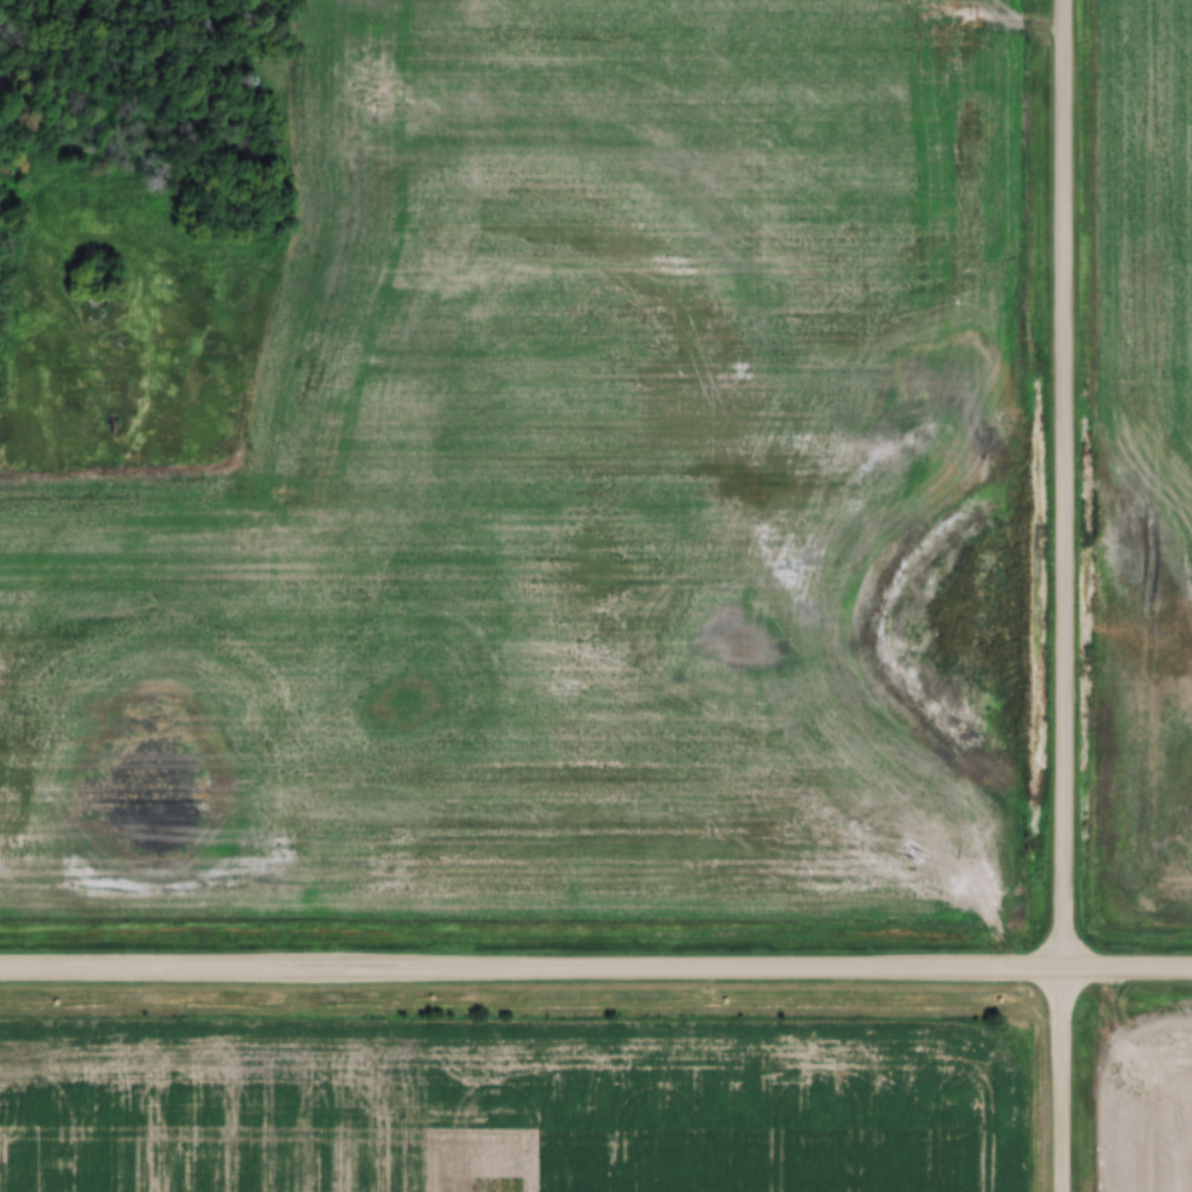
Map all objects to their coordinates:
road: (1064, 483)
road: (595, 966)
road: (1065, 1080)

